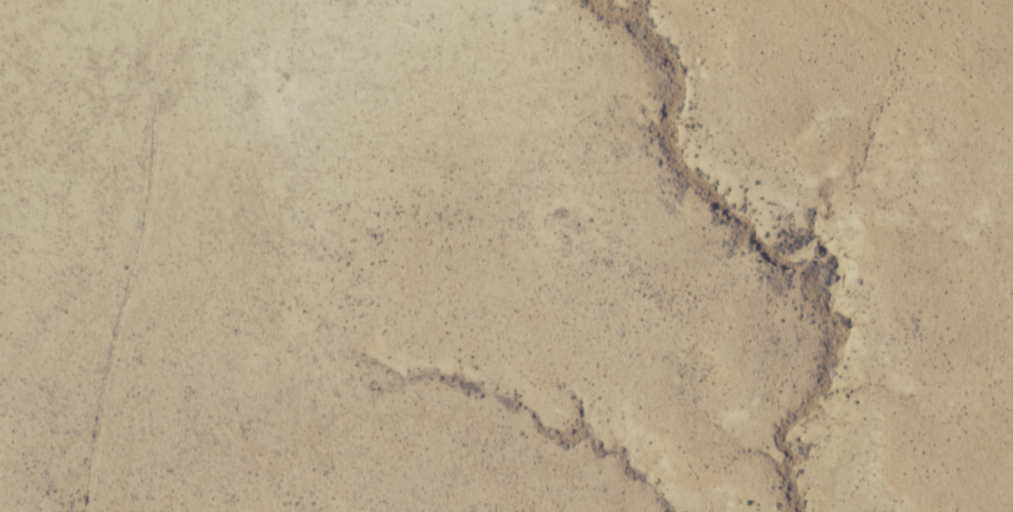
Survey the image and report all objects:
road: (11, 105)

